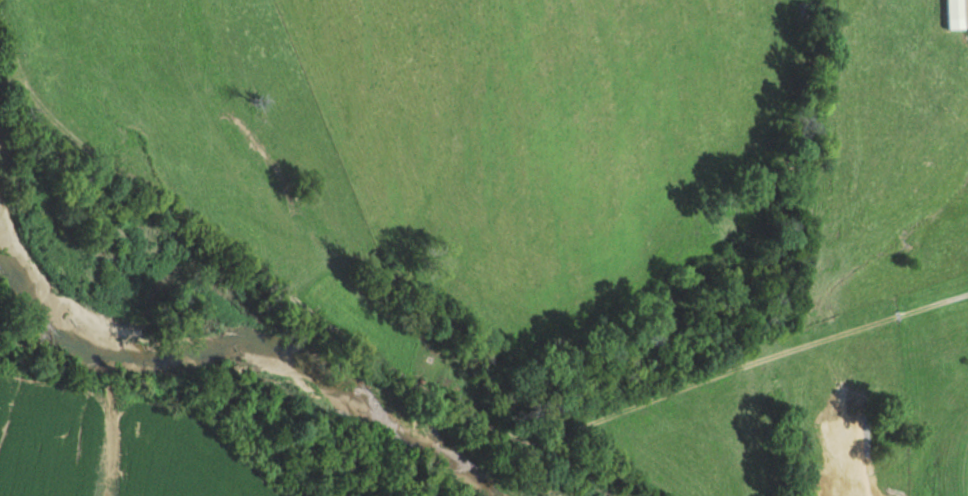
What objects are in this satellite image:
building: (955, 14)

